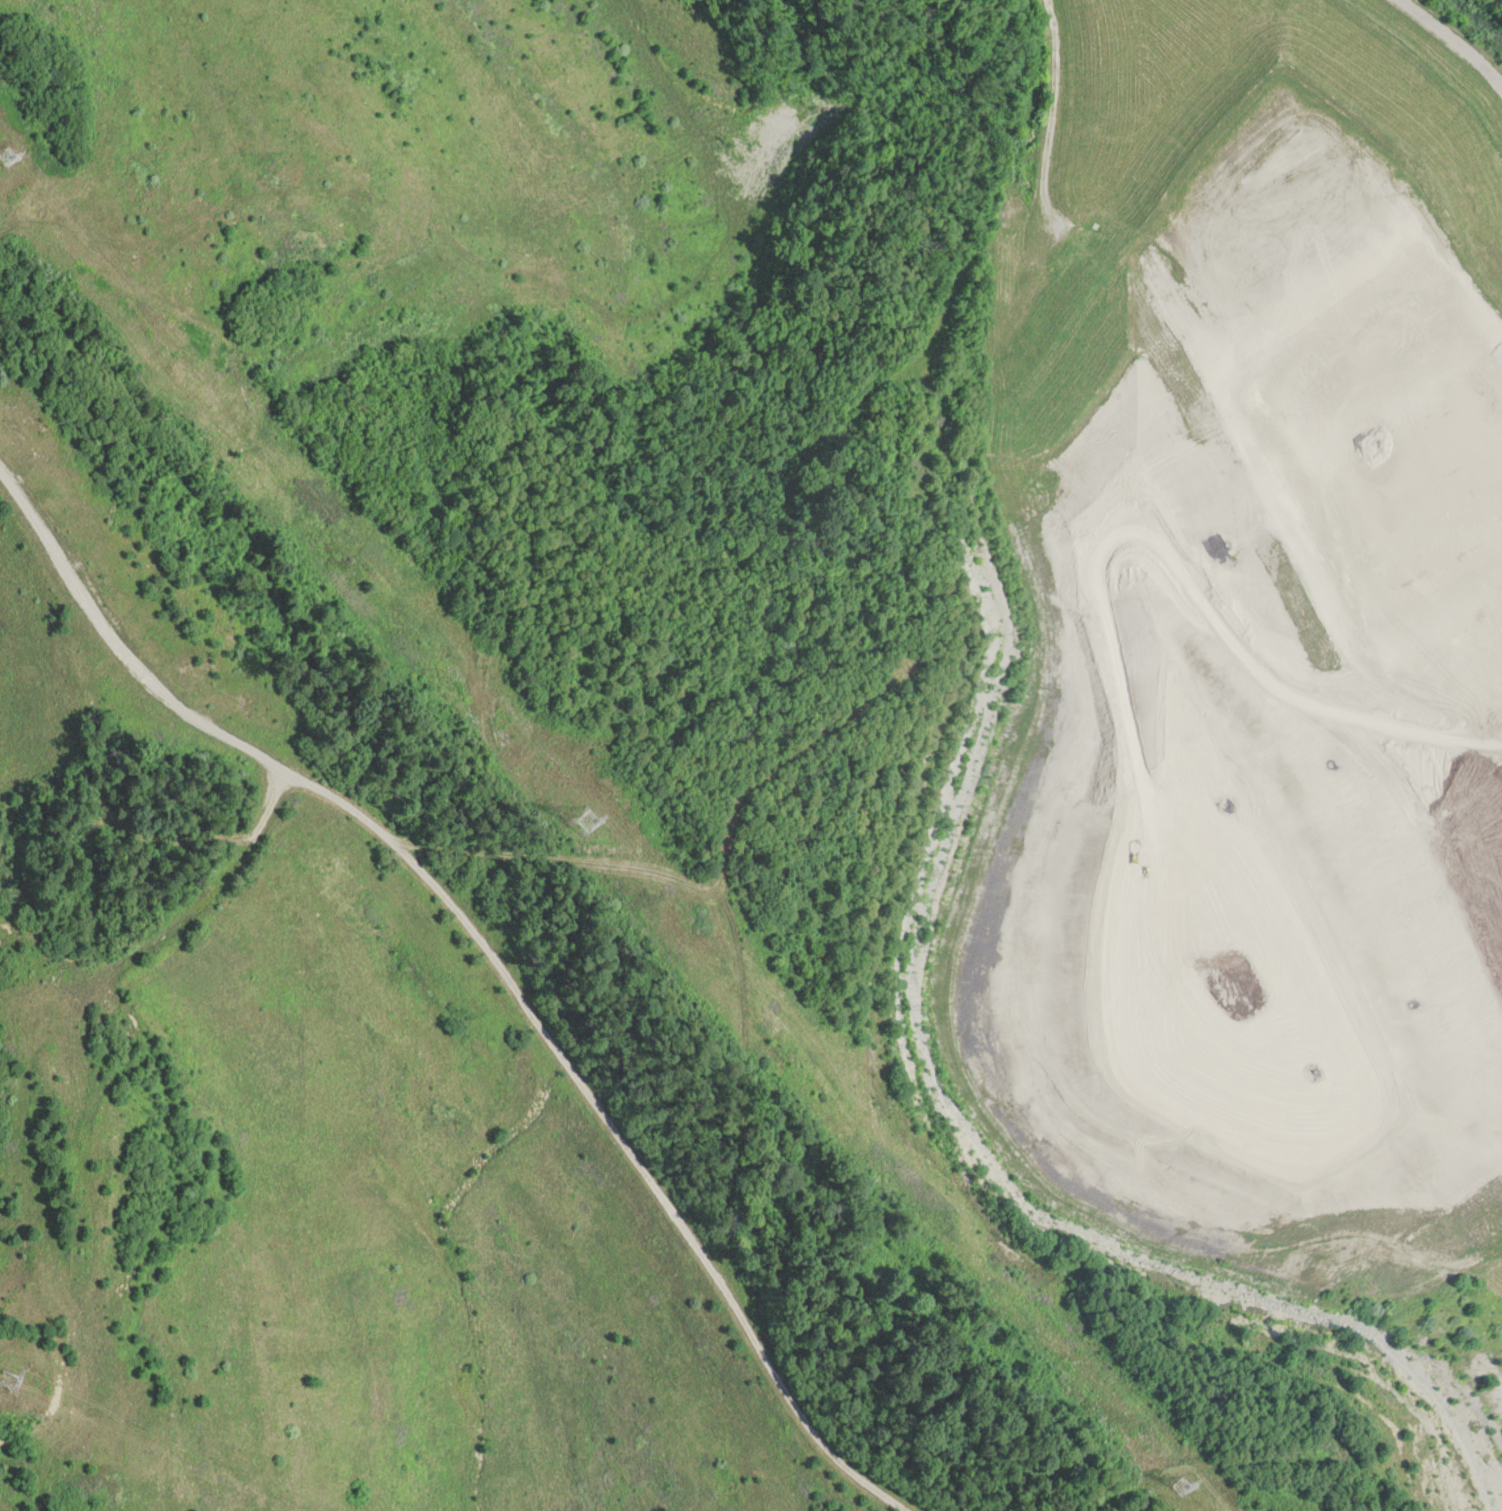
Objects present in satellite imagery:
power tower: (20, 1379)

